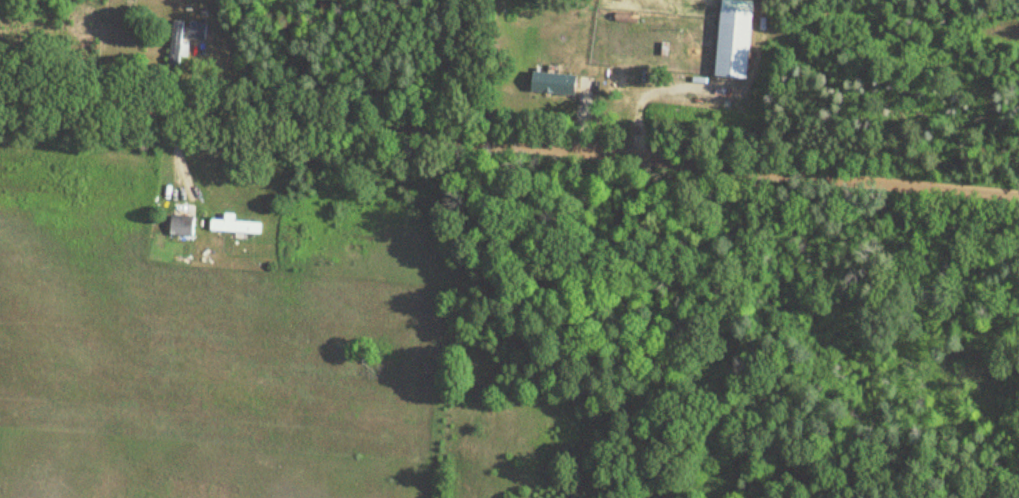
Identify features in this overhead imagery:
building: (195, 31)
building: (733, 39)
building: (175, 43)
building: (552, 84)
road: (509, 138)
building: (180, 226)
building: (234, 226)

